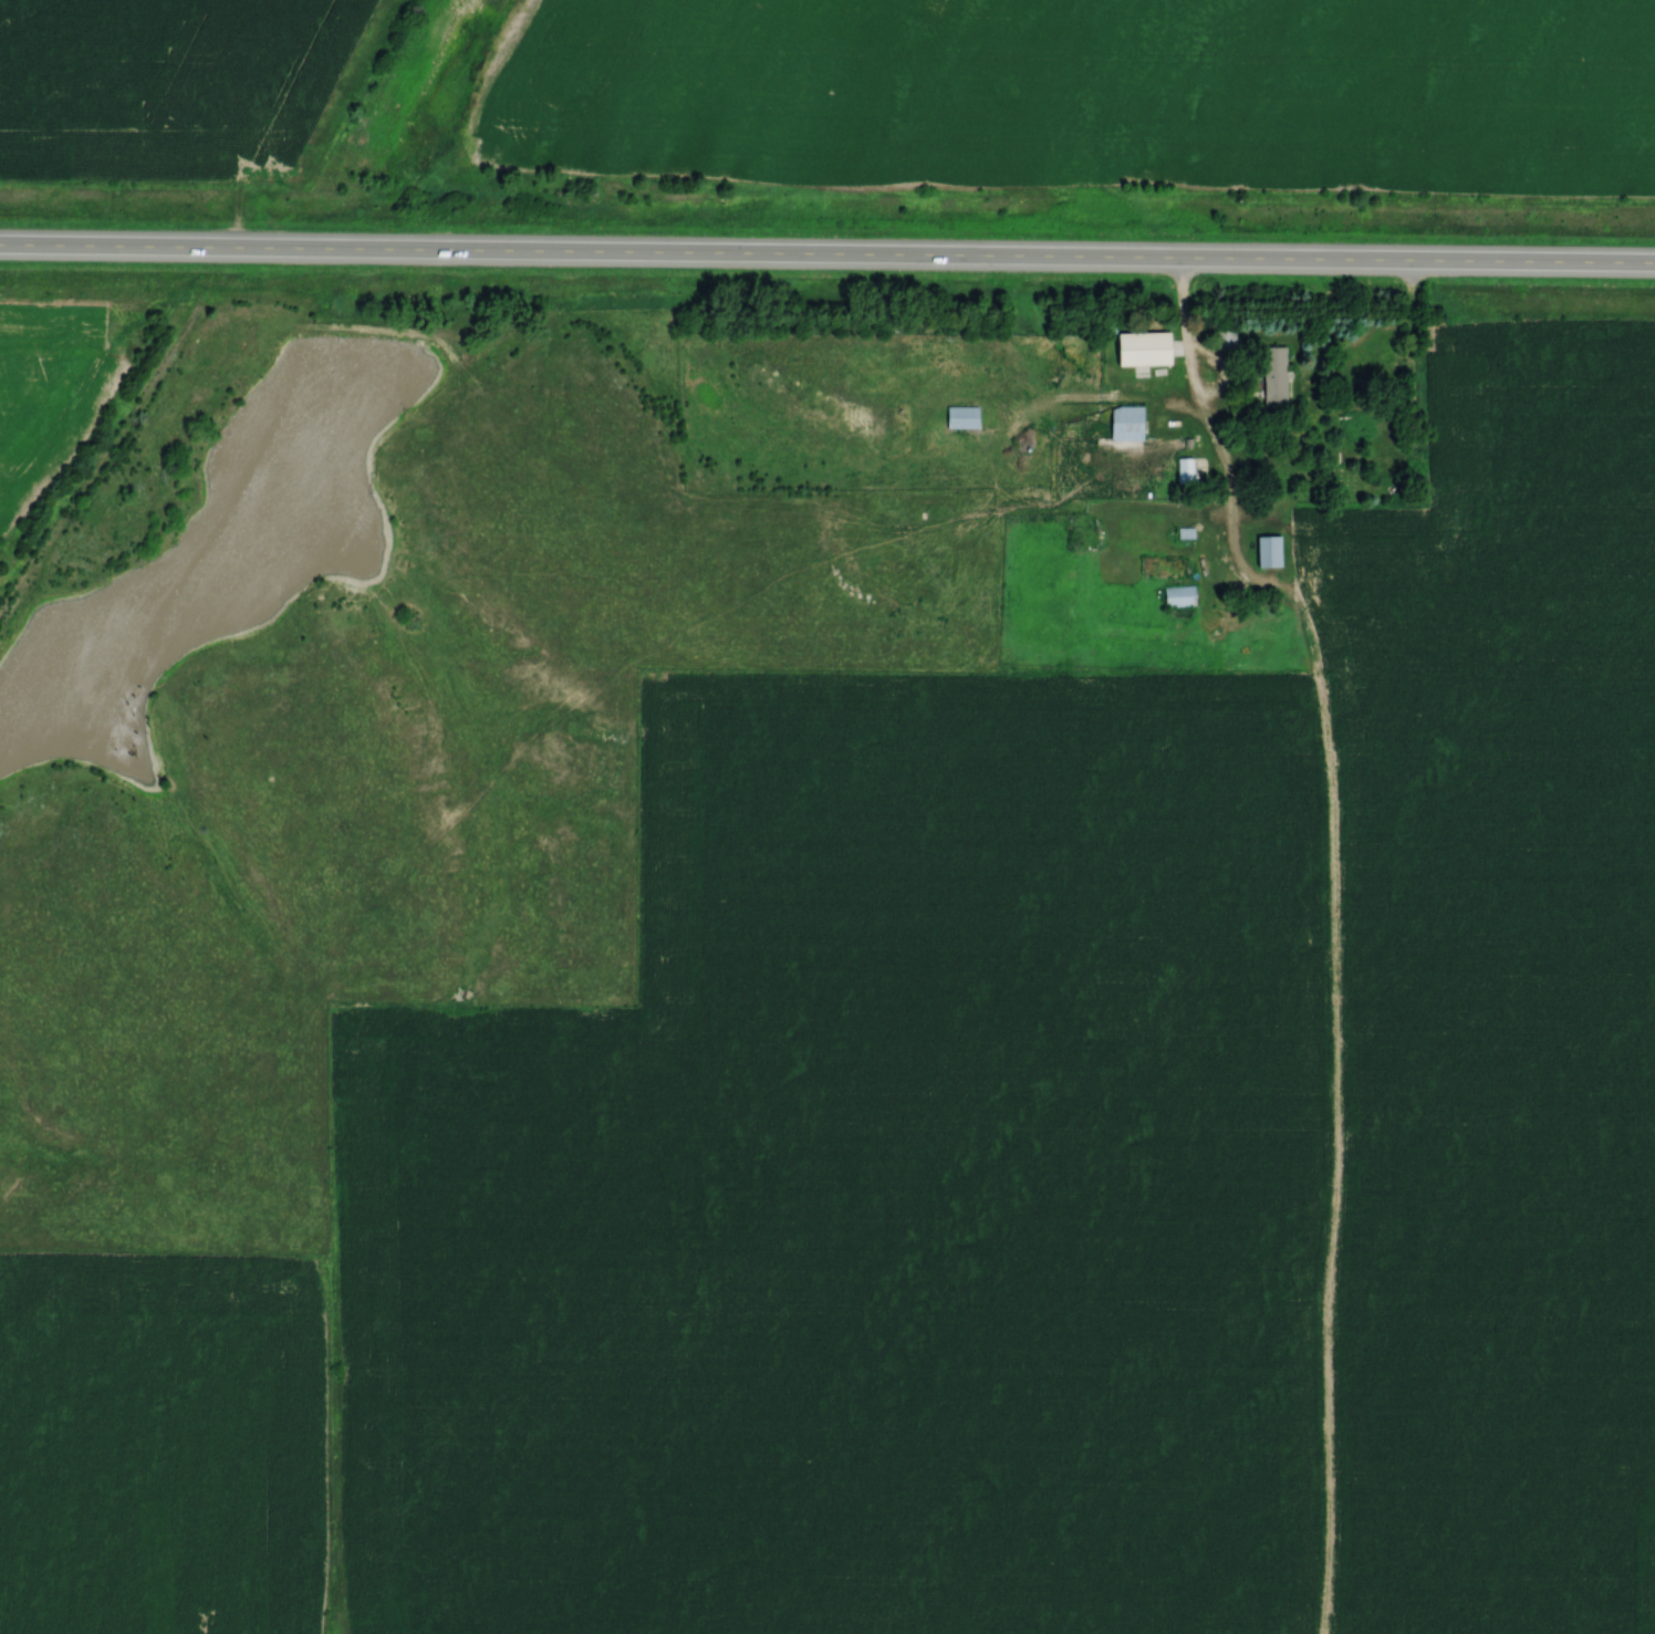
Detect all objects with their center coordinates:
road: (826, 258)
road: (1180, 301)
building: (1147, 350)
building: (1277, 376)
road: (1185, 381)
building: (964, 418)
building: (1128, 424)
building: (1186, 470)
building: (1270, 552)
building: (1179, 596)

